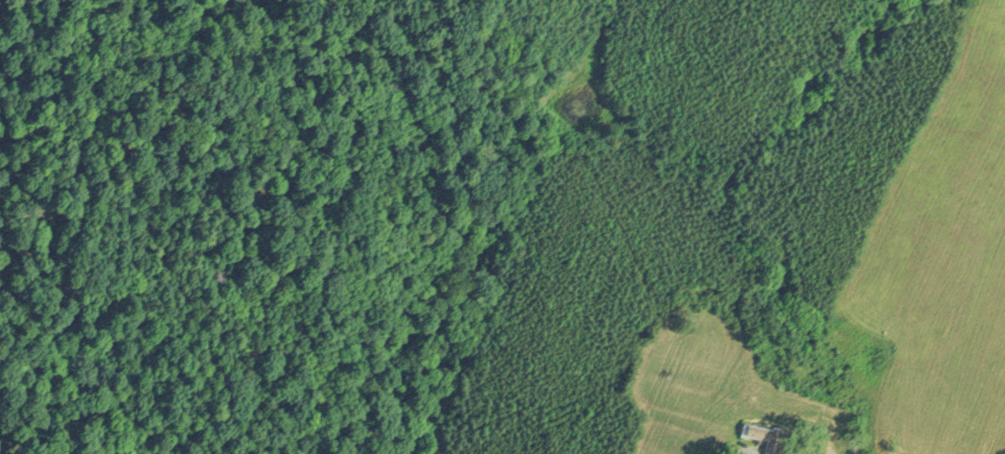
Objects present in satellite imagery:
building: (750, 429)

